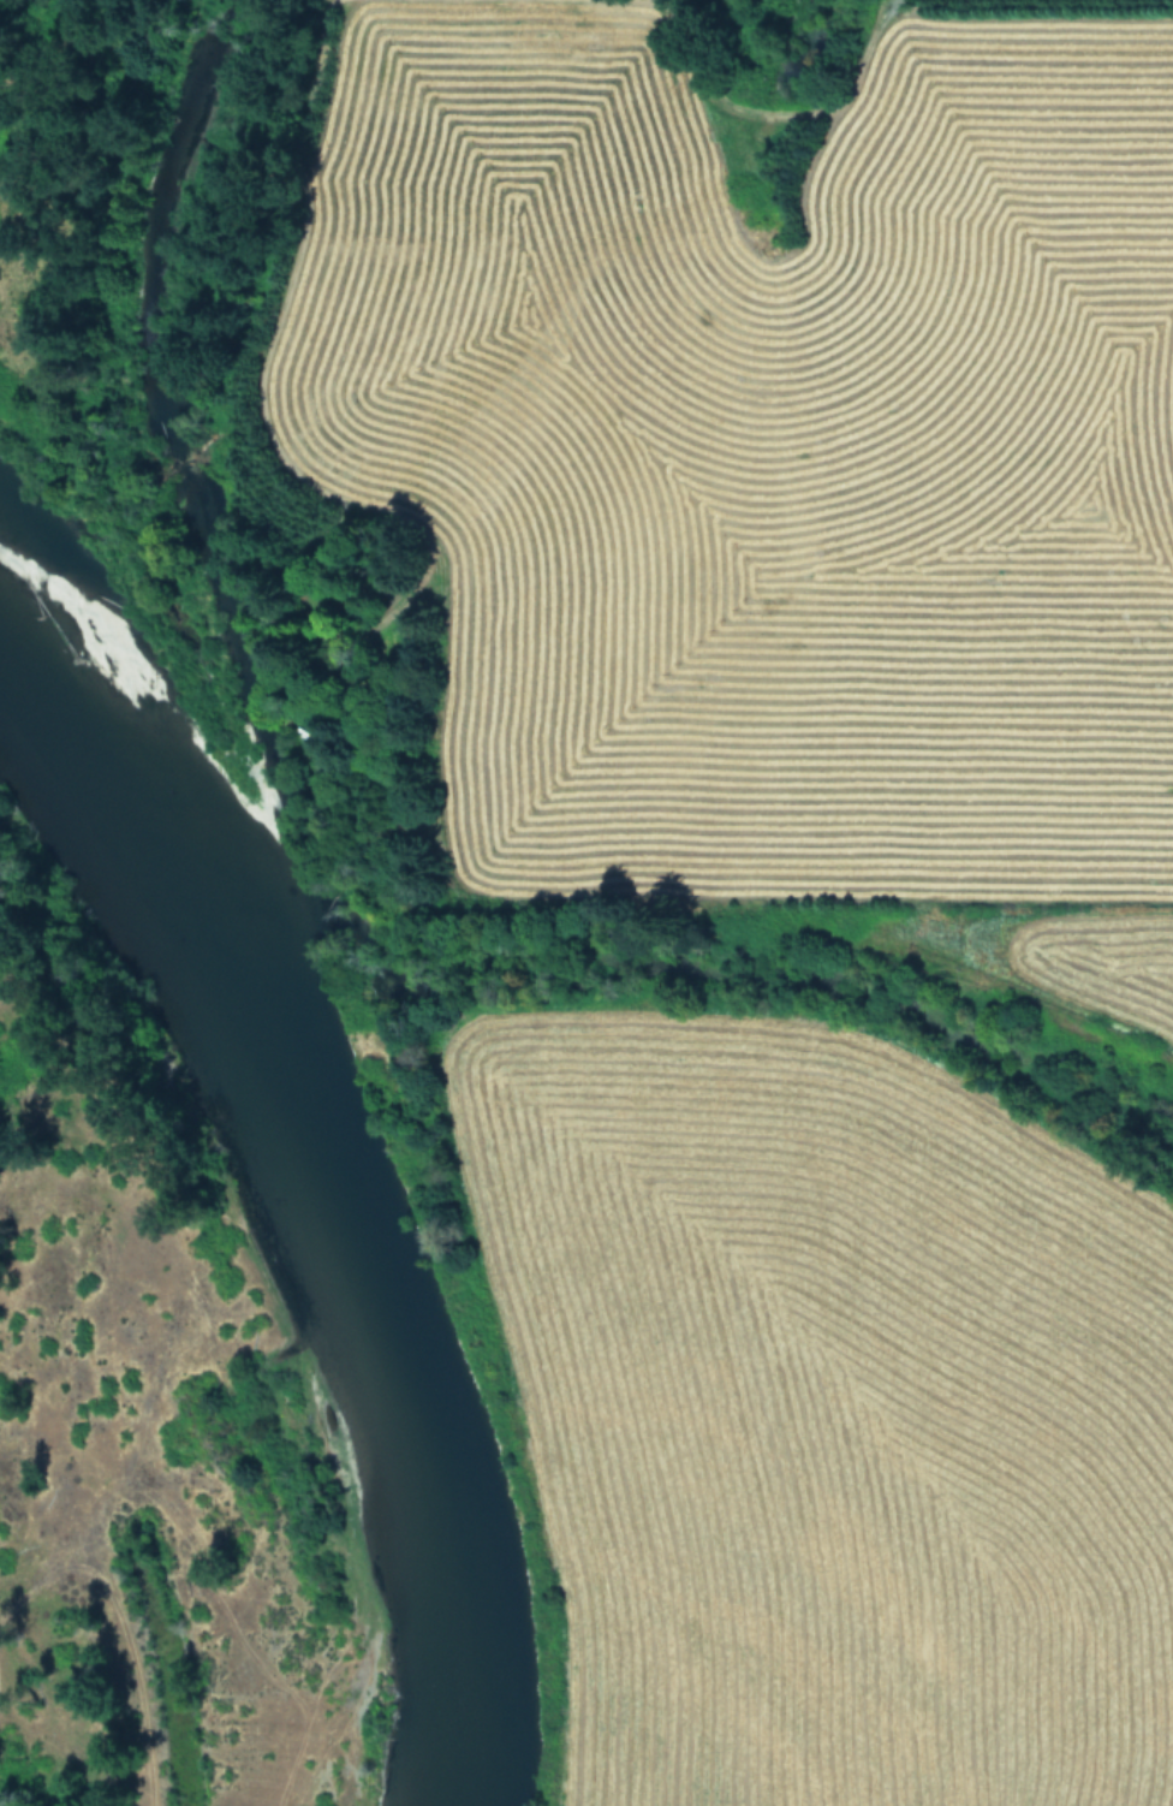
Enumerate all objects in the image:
crop: (786, 839)
river: (334, 1172)

